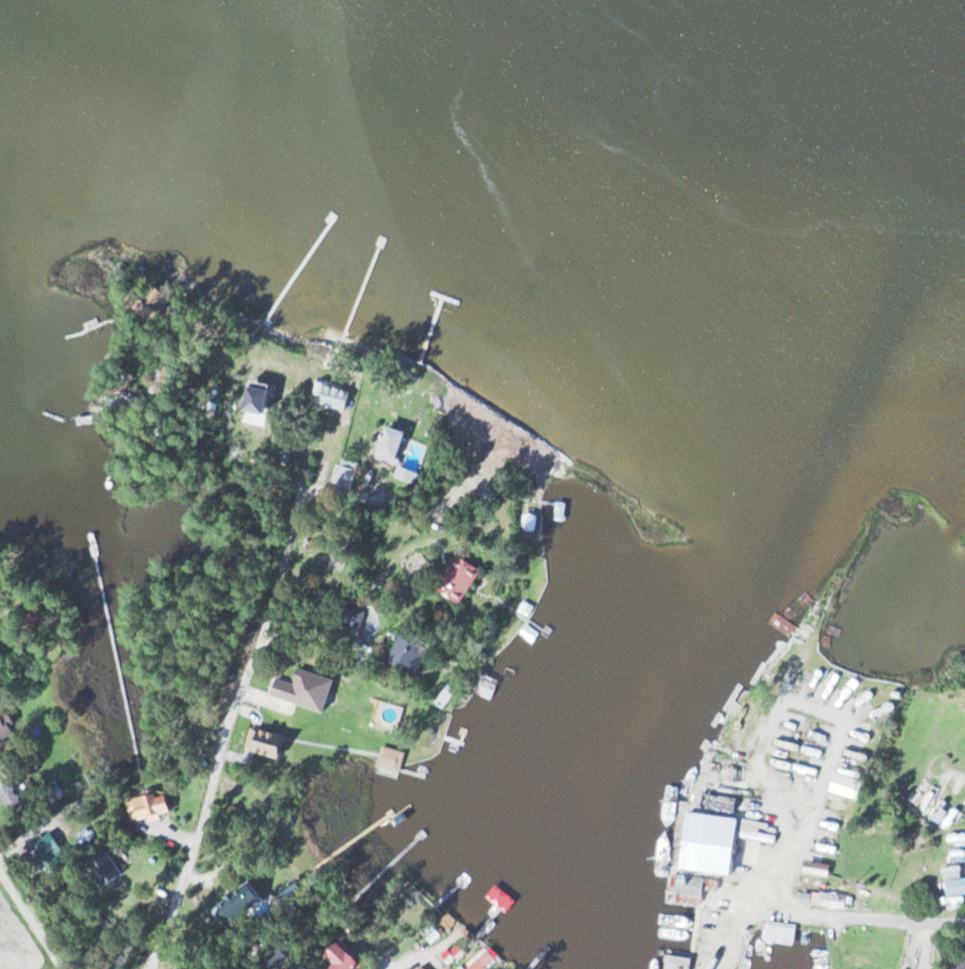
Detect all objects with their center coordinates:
building: (255, 403)
road: (226, 435)
building: (387, 446)
building: (340, 477)
road: (318, 485)
building: (529, 522)
building: (456, 580)
building: (349, 619)
building: (406, 655)
road: (221, 724)
building: (6, 731)
building: (262, 742)
building: (388, 759)
building: (10, 790)
building: (148, 806)
building: (41, 847)
building: (101, 869)
building: (237, 900)
building: (830, 901)
road: (32, 921)
road: (899, 923)
building: (779, 933)
building: (339, 957)
building: (960, 958)

